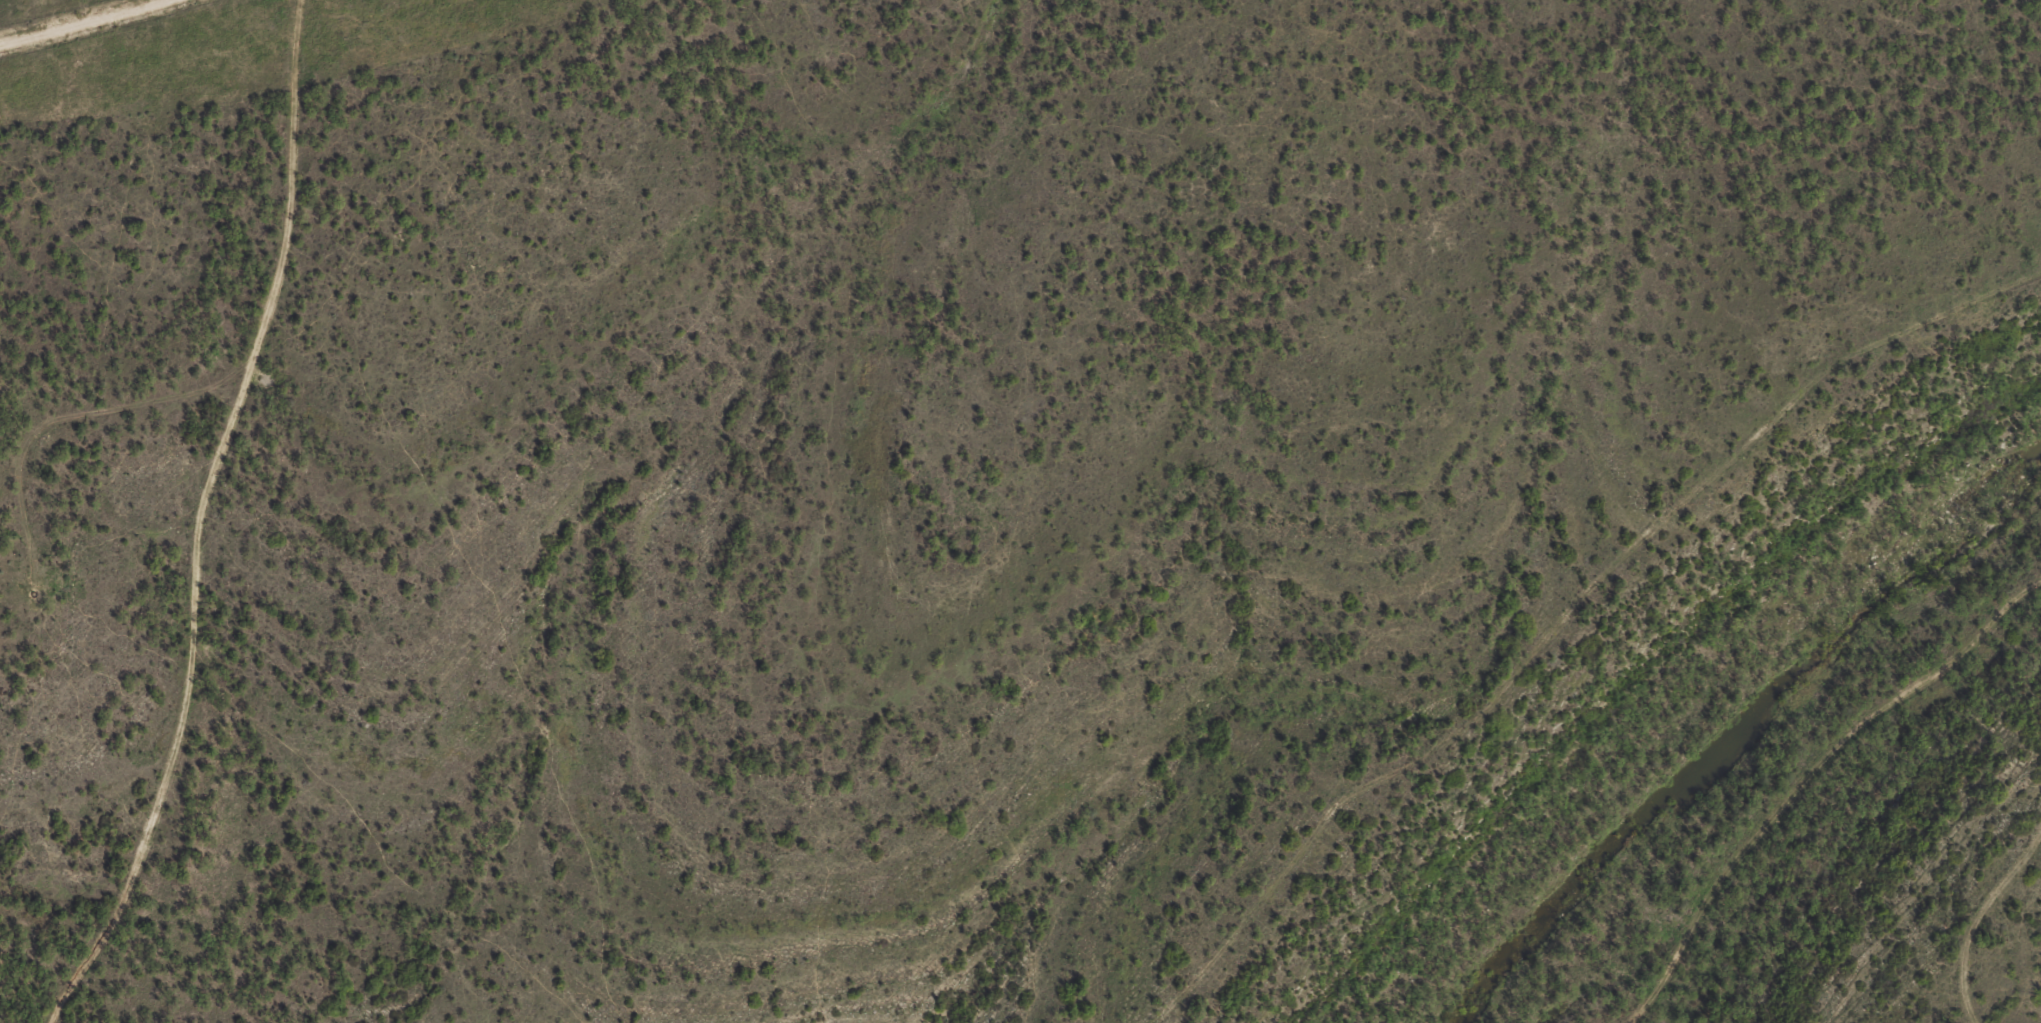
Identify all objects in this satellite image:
road: (112, 21)
road: (193, 516)
road: (1818, 779)

